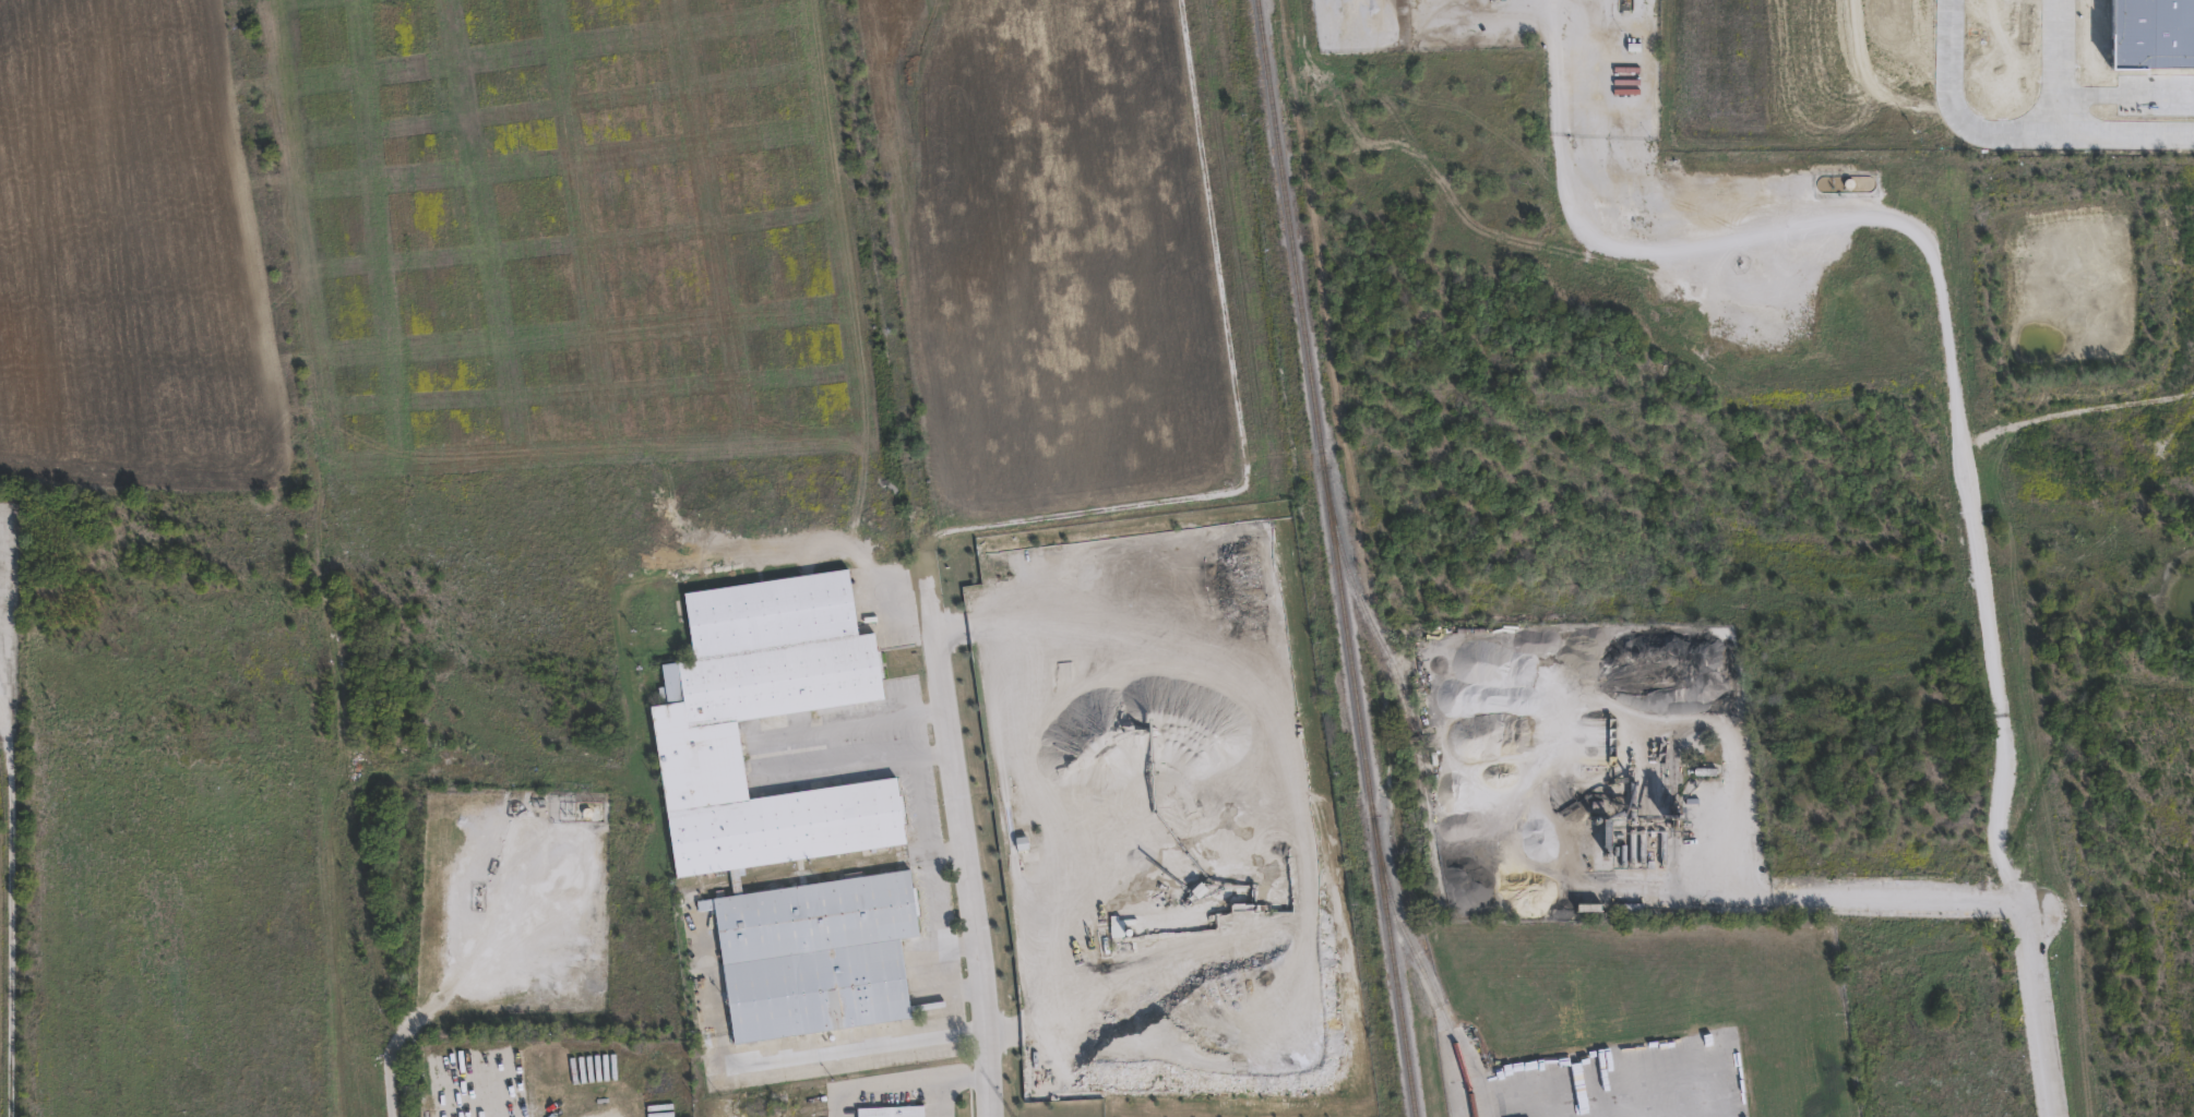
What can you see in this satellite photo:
railway: (1315, 407)
road: (1954, 413)
railway: (1394, 673)
road: (946, 694)
road: (1730, 771)
building: (784, 809)
road: (949, 850)
road: (974, 896)
road: (935, 901)
road: (1865, 902)
building: (1626, 906)
road: (11, 918)
road: (961, 948)
road: (474, 963)
railway: (1393, 965)
railway: (1419, 965)
road: (965, 988)
road: (716, 997)
road: (947, 1014)
road: (989, 1031)
road: (839, 1054)
road: (391, 1059)
road: (902, 1083)
road: (940, 1098)
building: (891, 1113)

